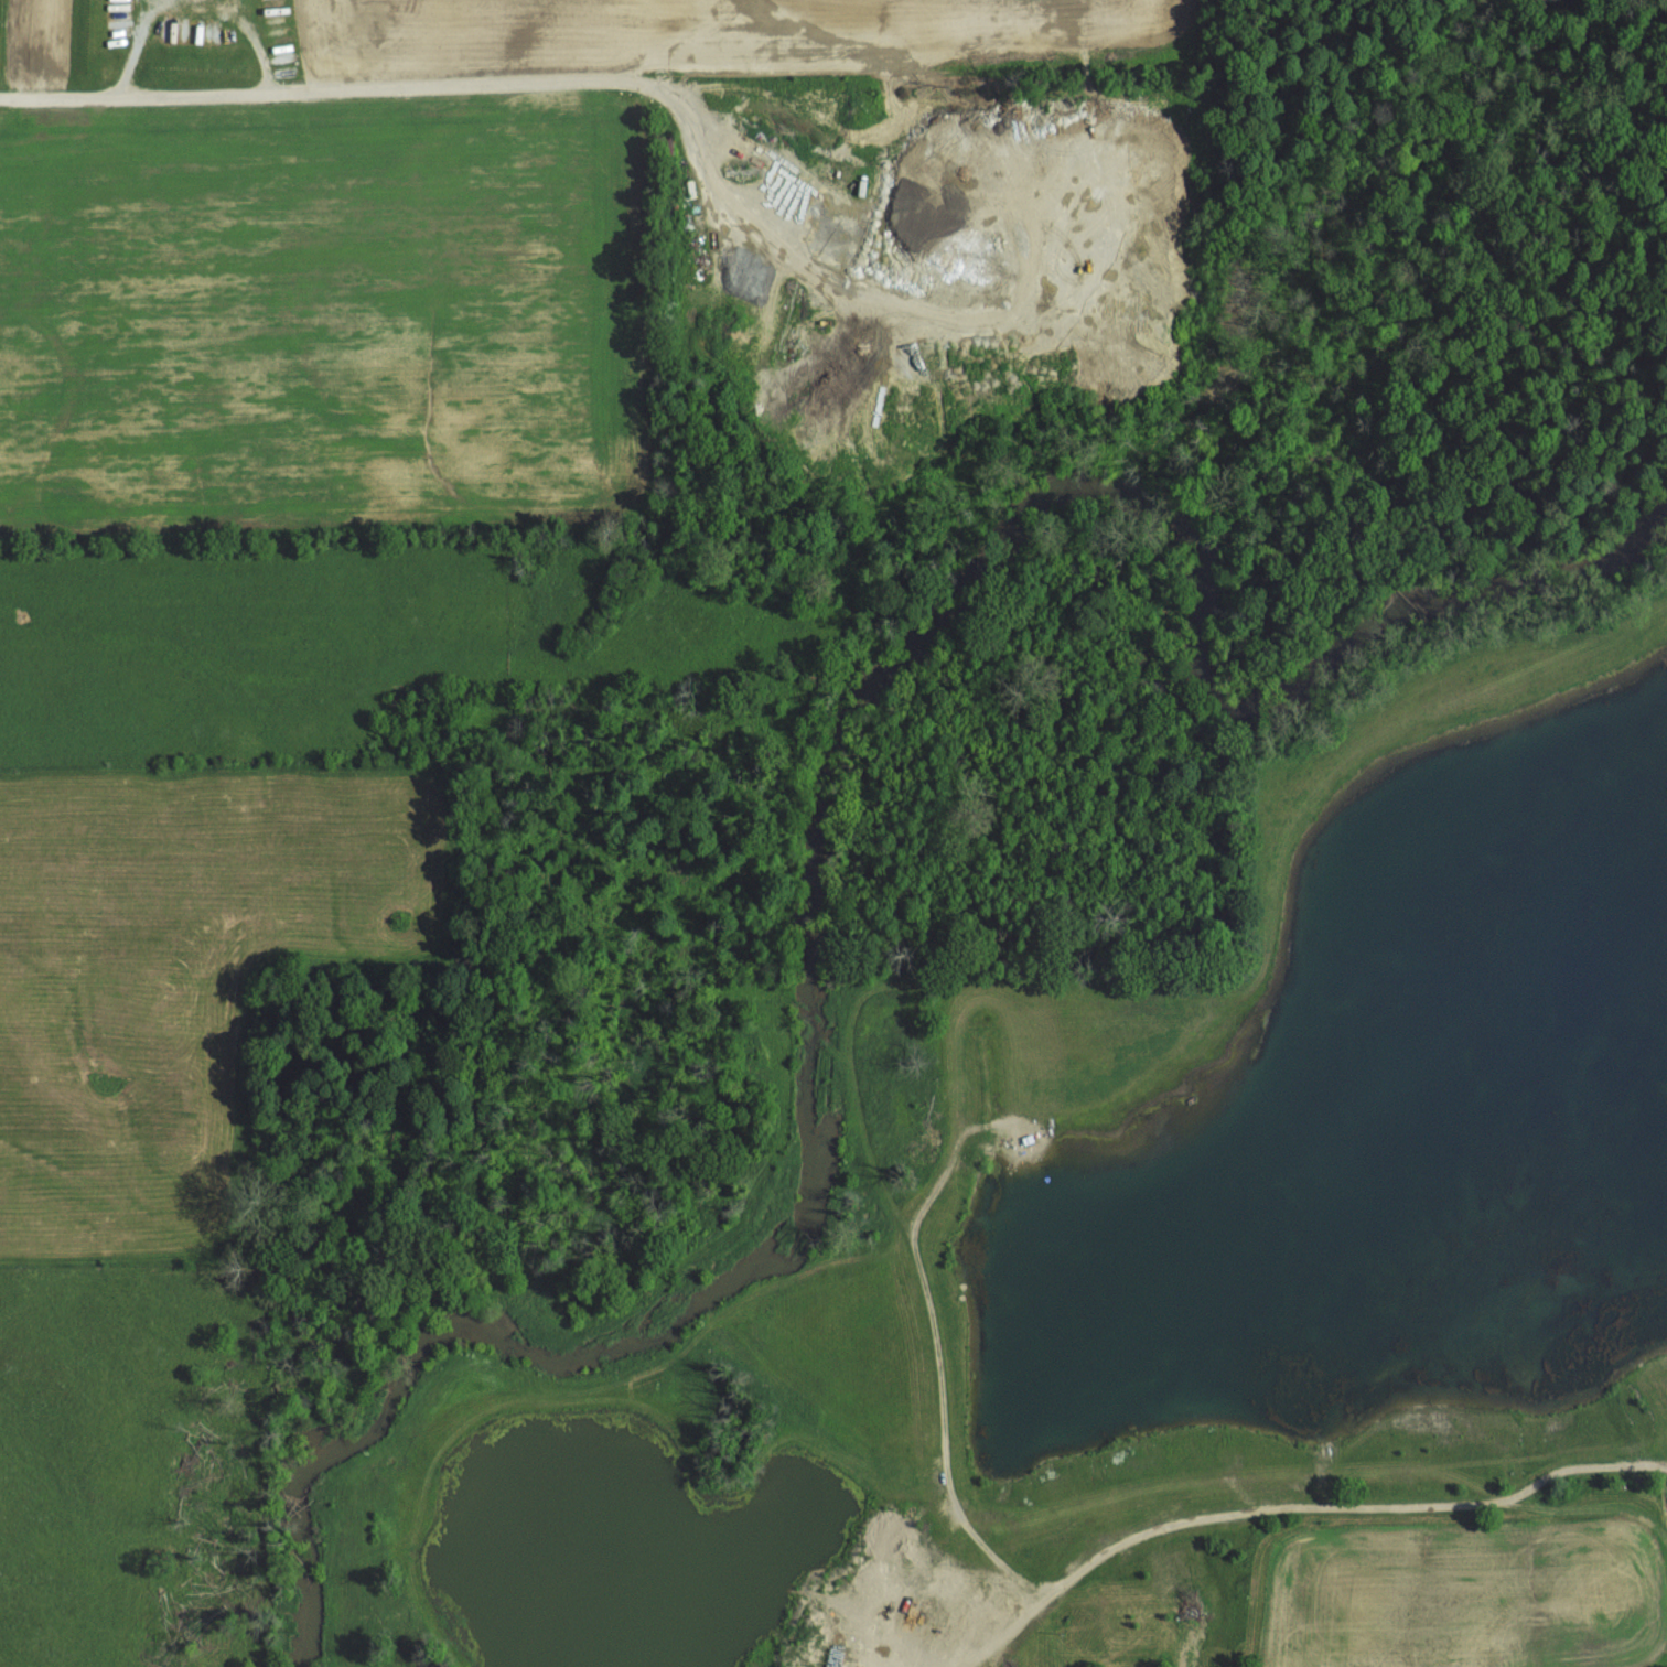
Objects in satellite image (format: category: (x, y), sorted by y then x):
road: (419, 88)
road: (1290, 1507)

